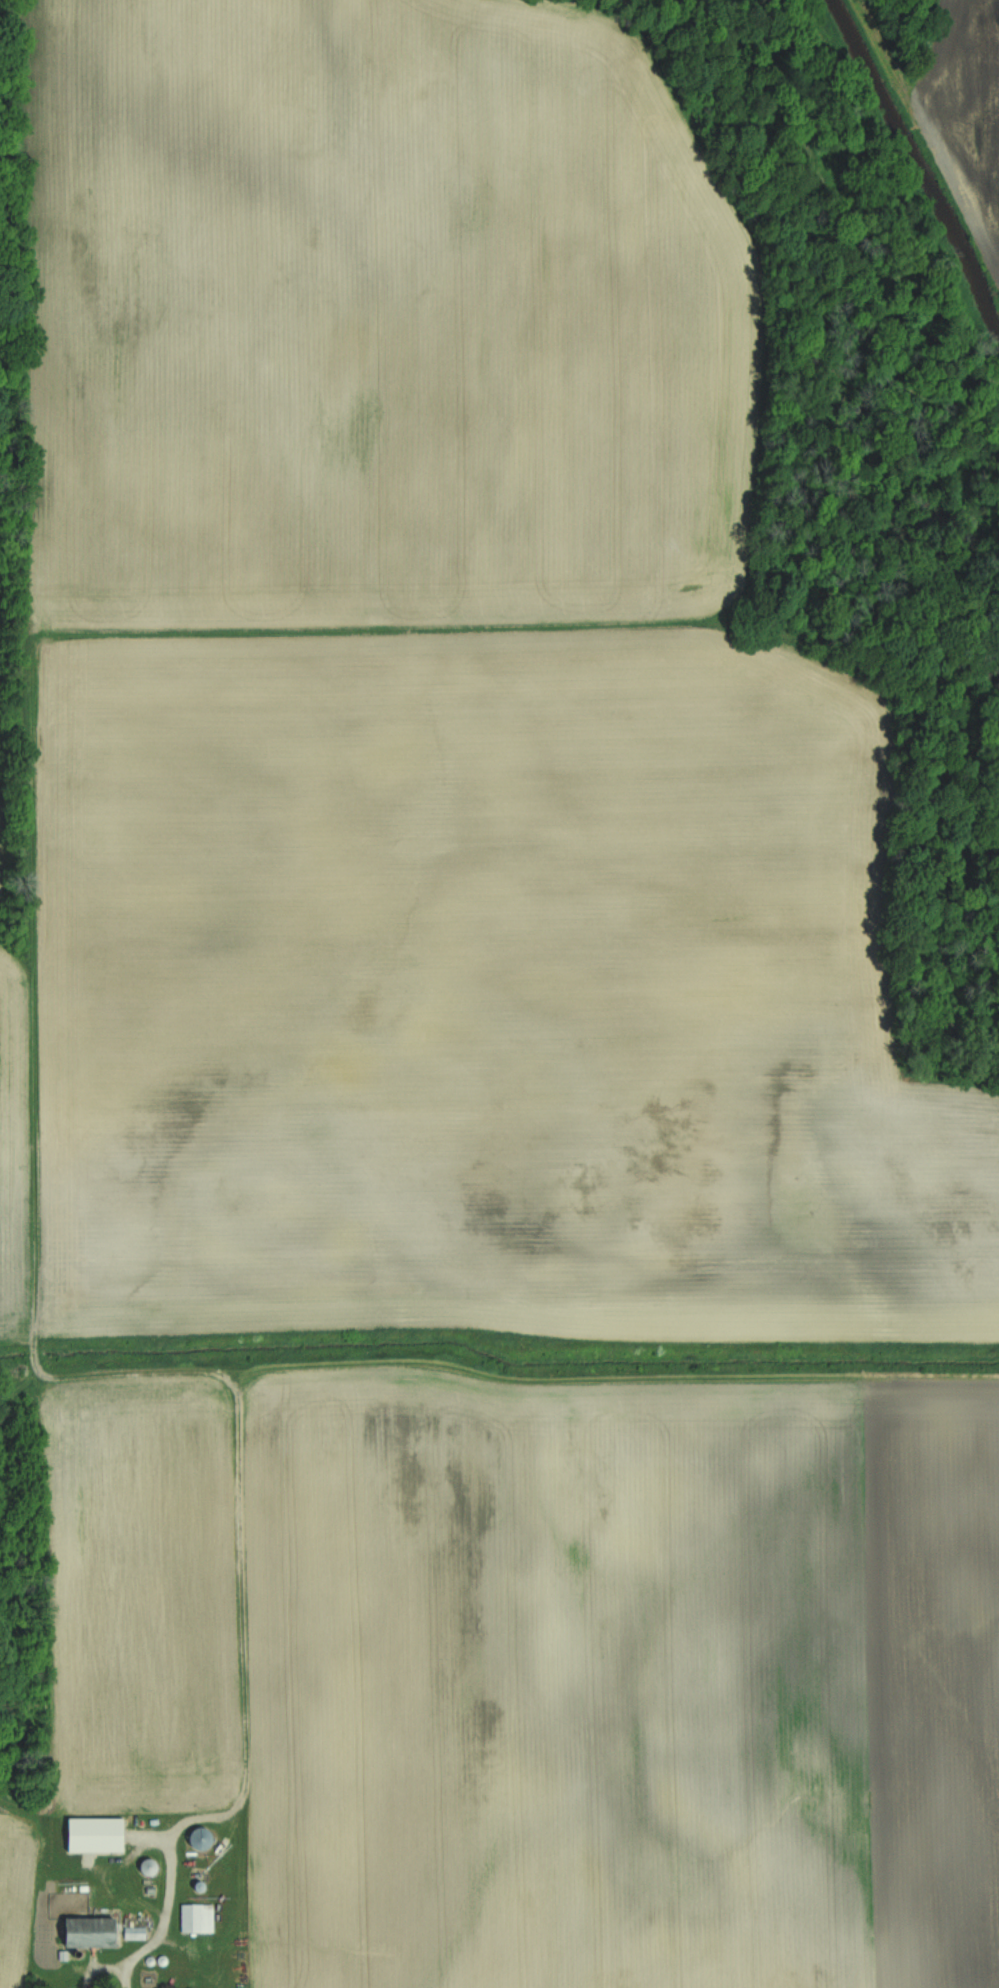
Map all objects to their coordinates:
building: (93, 1834)
building: (199, 1840)
building: (196, 1918)
road: (158, 1921)
building: (86, 1932)

